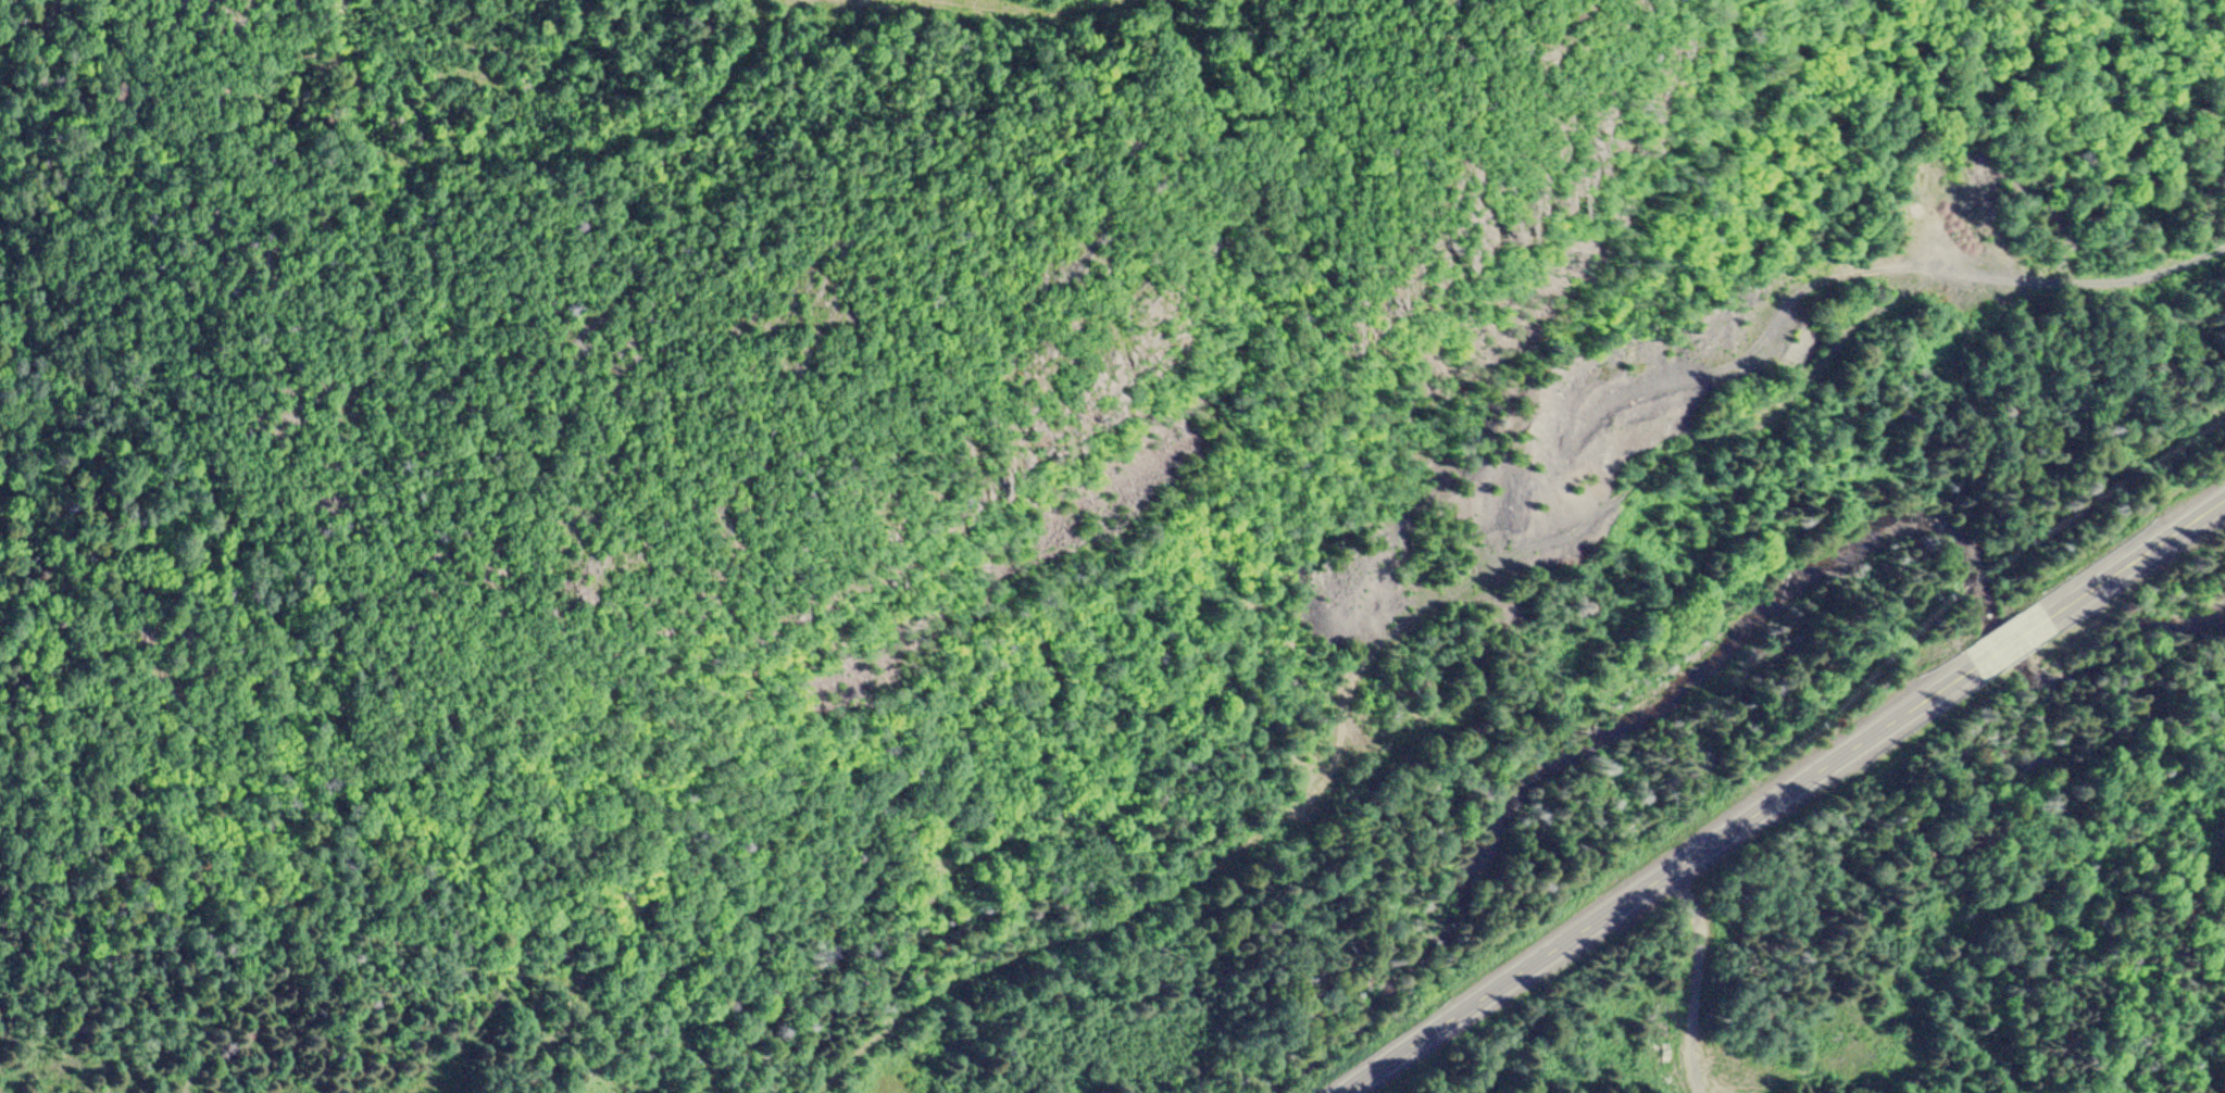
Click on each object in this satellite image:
road: (2135, 557)
road: (1484, 576)
road: (2014, 638)
river: (1751, 650)
road: (1657, 875)
road: (1691, 980)

